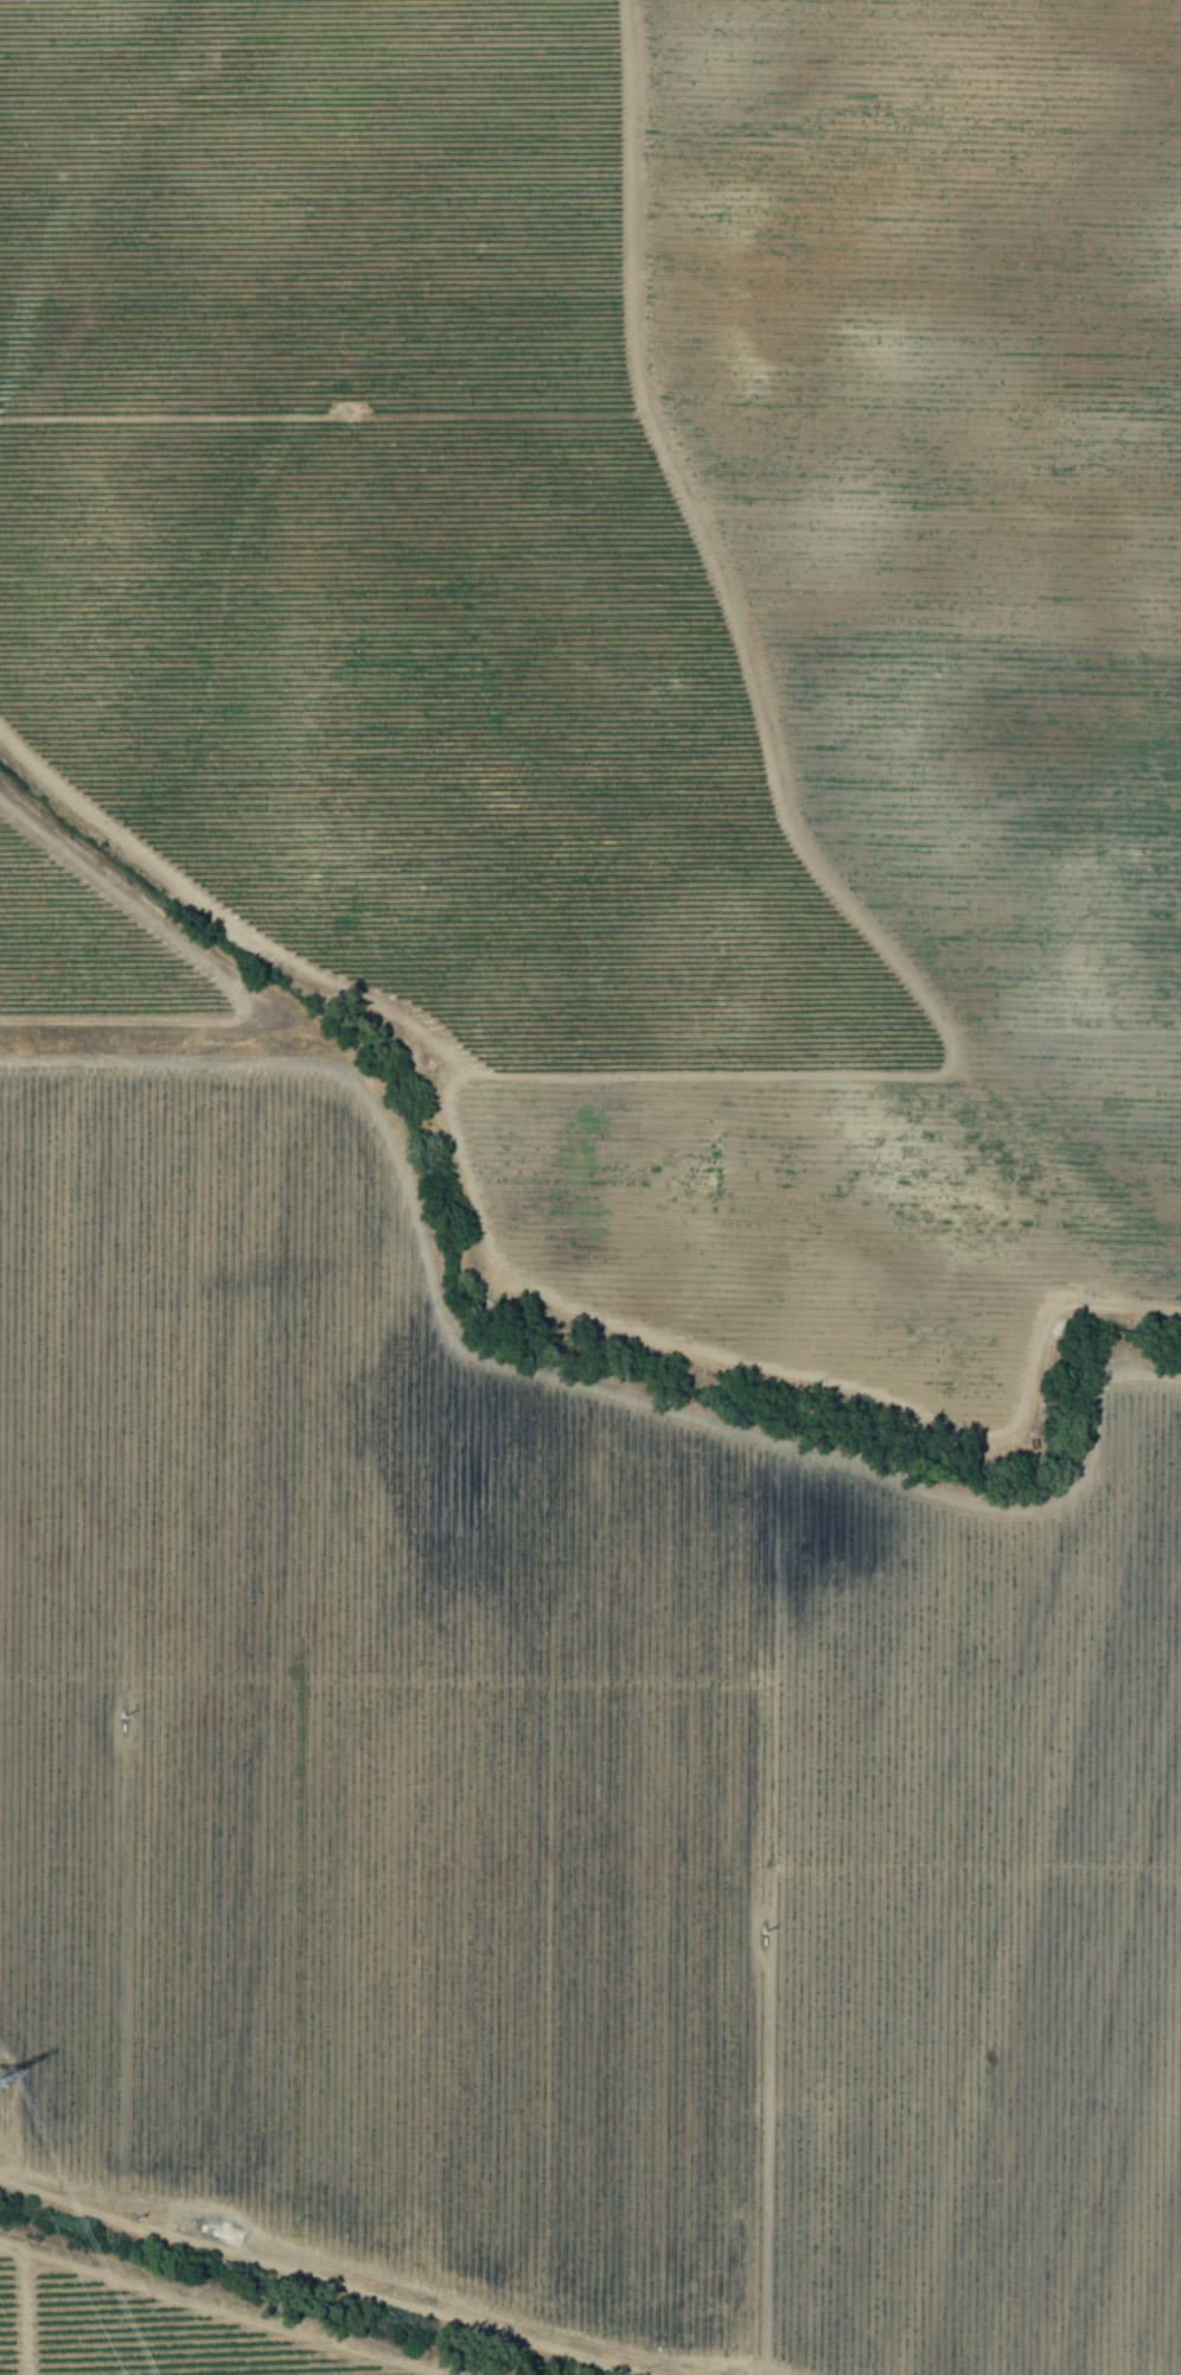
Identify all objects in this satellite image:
road: (982, 1285)
road: (843, 2112)
road: (325, 2285)

